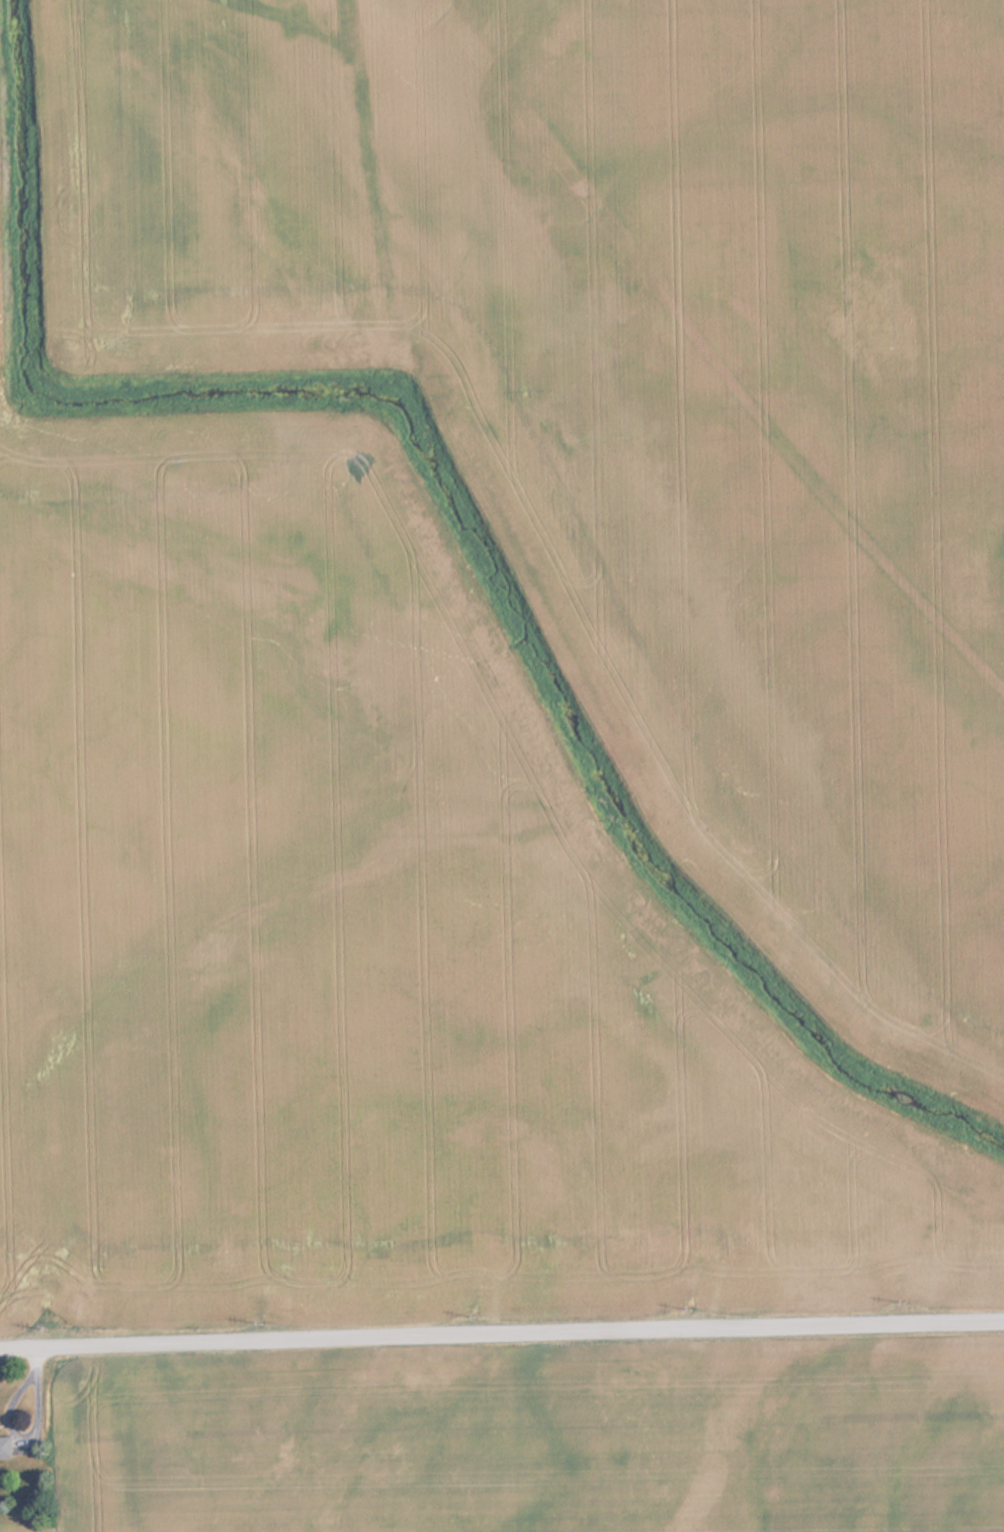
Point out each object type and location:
road: (501, 1335)
building: (4, 1447)

